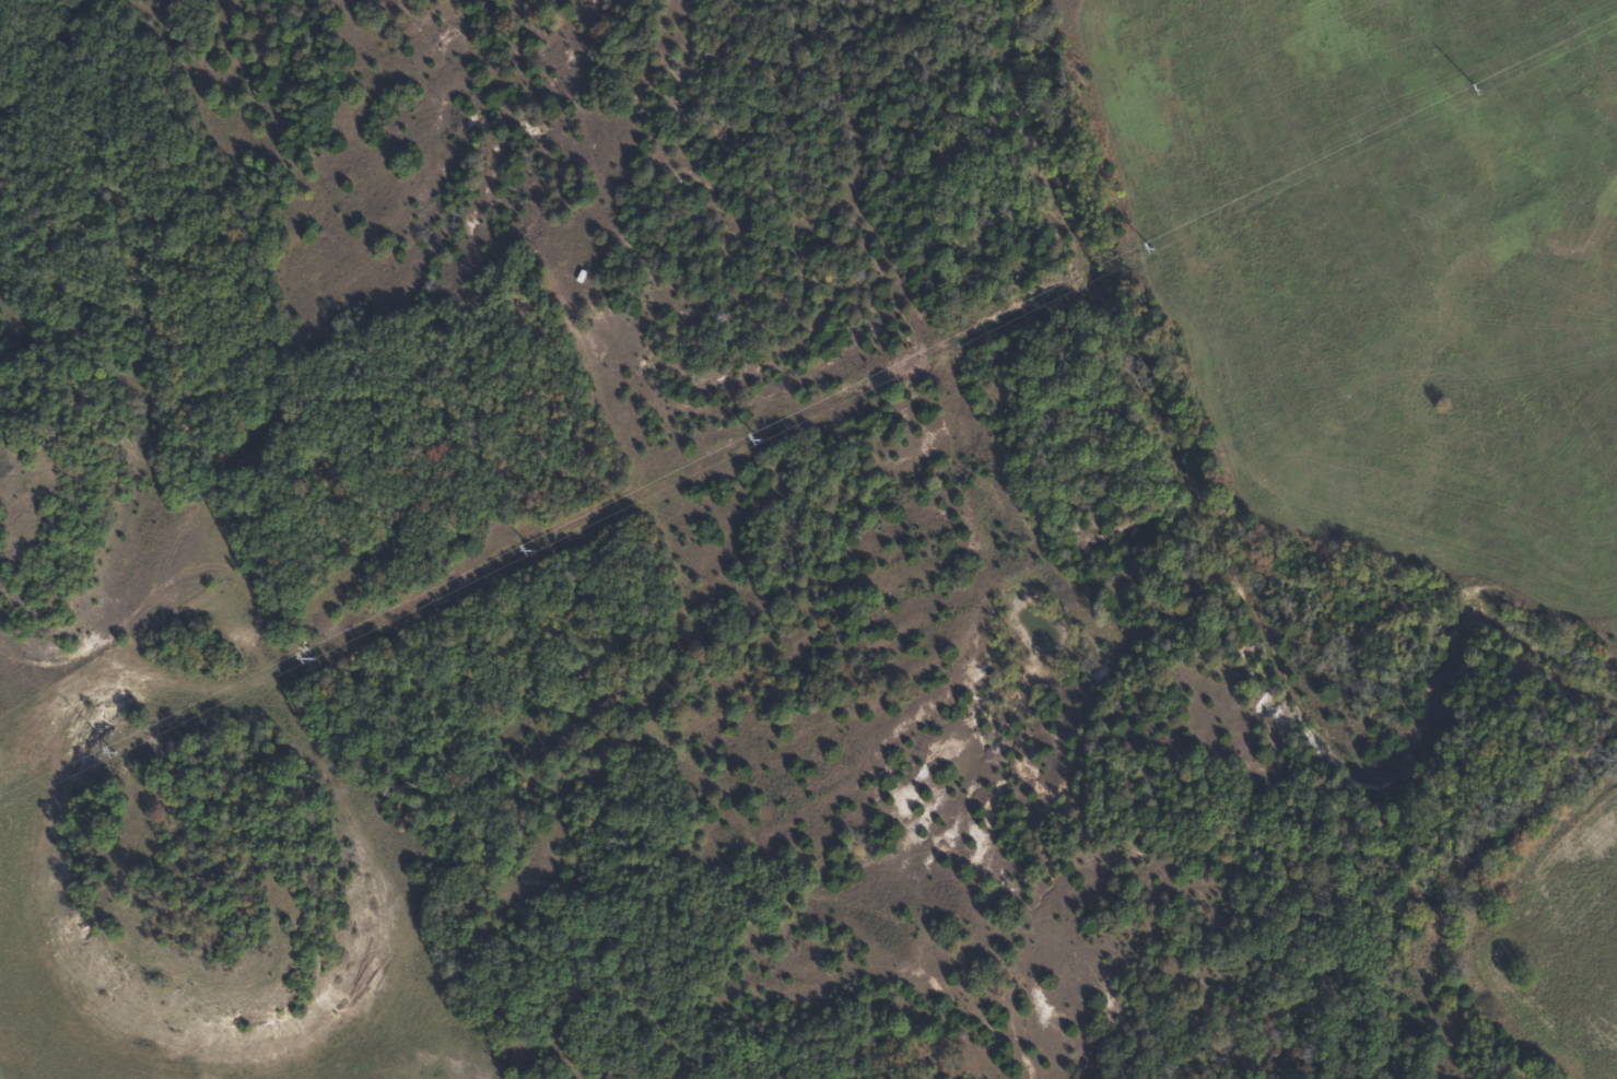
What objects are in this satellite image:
power tower: (1474, 91)
power tower: (1151, 248)
power tower: (755, 436)
power tower: (529, 547)
power tower: (306, 656)
power tower: (113, 751)

